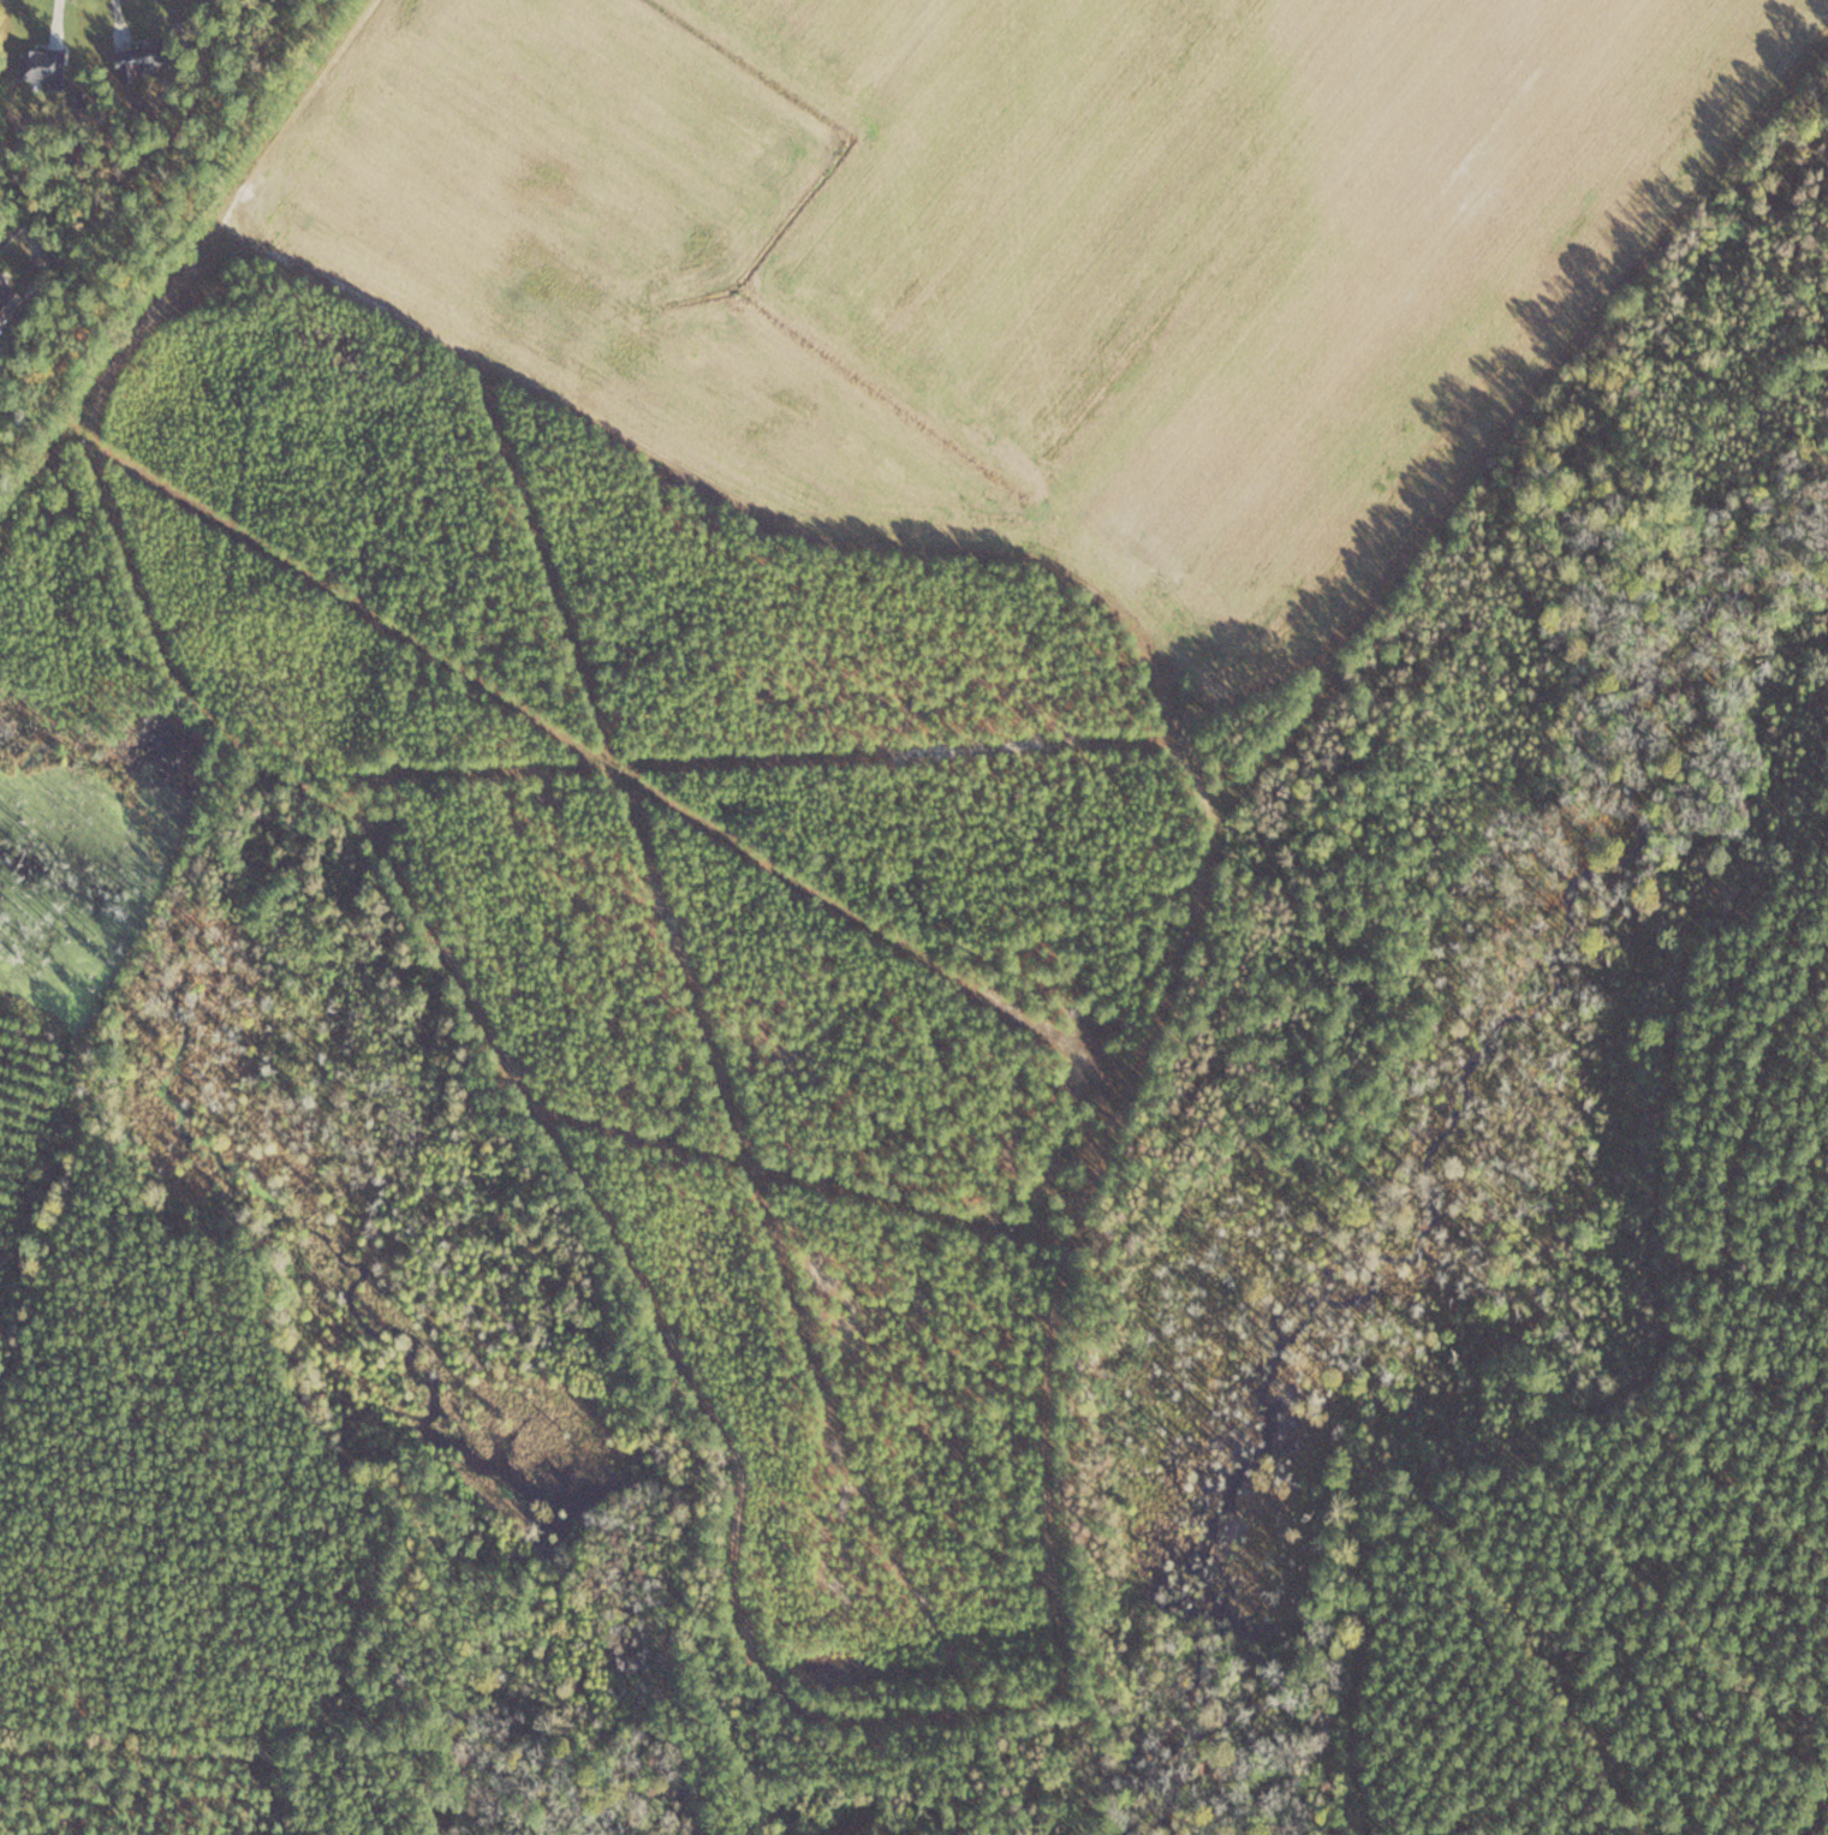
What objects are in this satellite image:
building: (7, 297)

